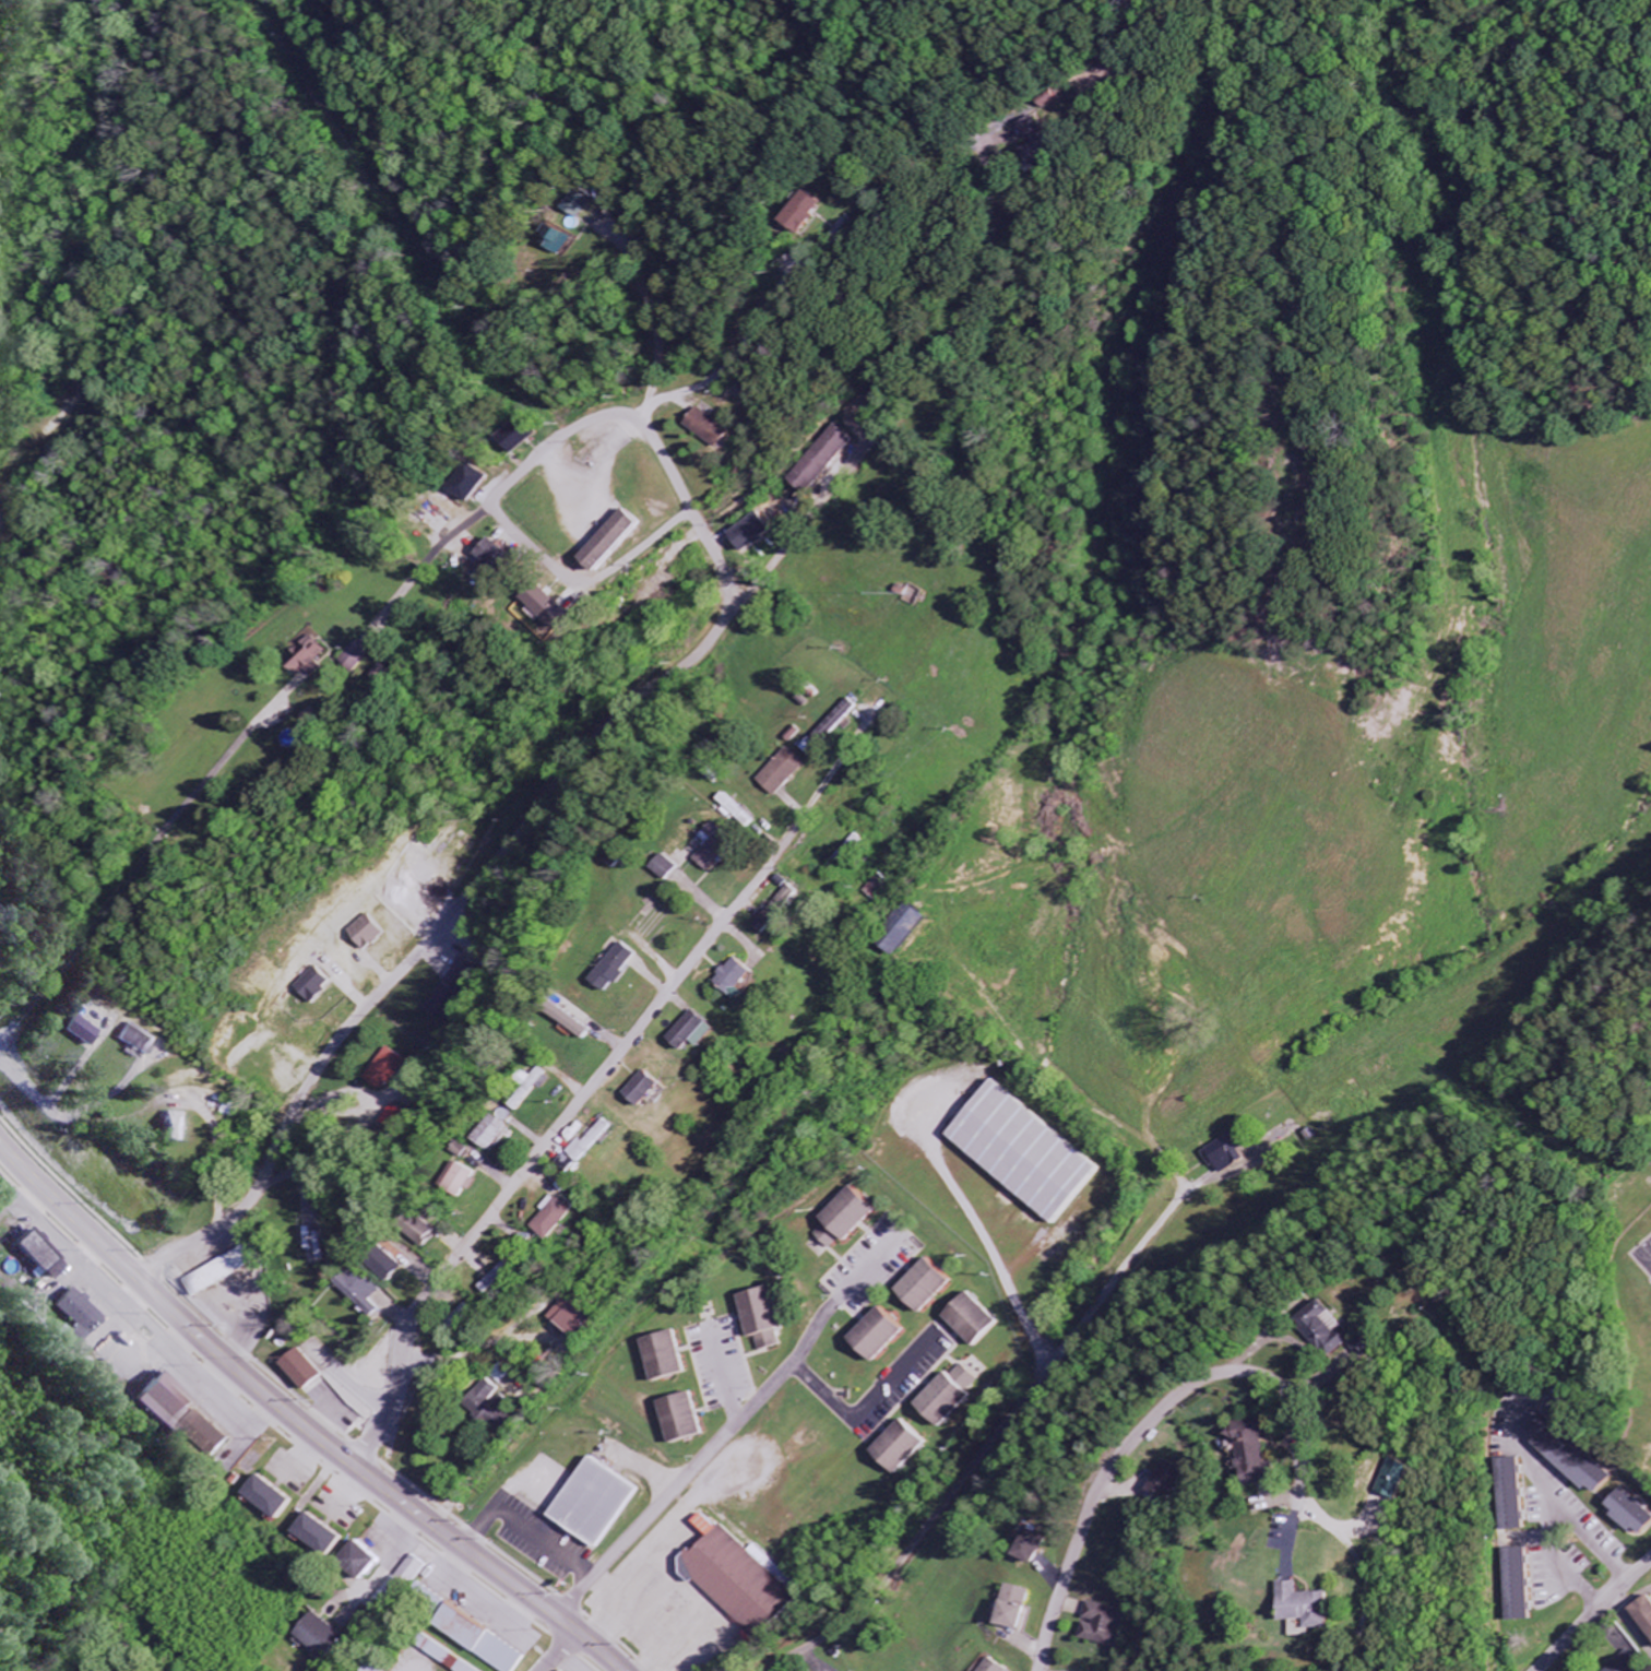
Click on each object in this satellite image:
building: (1033, 129)
building: (812, 212)
building: (565, 242)
road: (772, 372)
road: (675, 390)
building: (714, 428)
building: (526, 435)
road: (543, 458)
building: (827, 460)
building: (477, 484)
building: (759, 532)
building: (623, 540)
building: (498, 558)
road: (427, 565)
building: (557, 608)
road: (728, 613)
building: (310, 654)
building: (359, 656)
building: (834, 727)
building: (787, 772)
building: (740, 810)
building: (721, 848)
road: (498, 861)
building: (672, 868)
road: (115, 876)
building: (881, 887)
building: (785, 910)
building: (375, 933)
building: (623, 968)
building: (467, 975)
building: (744, 977)
building: (321, 986)
building: (449, 1003)
building: (579, 1023)
building: (85, 1032)
building: (702, 1032)
building: (142, 1040)
building: (393, 1069)
building: (651, 1089)
road: (152, 1092)
building: (182, 1127)
road: (561, 1127)
building: (496, 1133)
building: (594, 1142)
building: (1031, 1153)
building: (1228, 1156)
building: (464, 1180)
building: (851, 1219)
building: (560, 1221)
building: (426, 1233)
building: (43, 1256)
building: (392, 1268)
road: (1126, 1268)
building: (228, 1271)
building: (499, 1279)
building: (361, 1291)
building: (81, 1312)
building: (462, 1316)
building: (769, 1319)
building: (578, 1320)
building: (981, 1320)
building: (1303, 1329)
building: (886, 1336)
building: (673, 1359)
building: (307, 1371)
road: (806, 1374)
building: (488, 1391)
building: (958, 1396)
building: (168, 1405)
building: (501, 1414)
road: (738, 1415)
building: (691, 1420)
road: (1154, 1424)
road: (298, 1427)
building: (210, 1434)
building: (910, 1447)
building: (1236, 1450)
building: (1565, 1455)
building: (1376, 1479)
building: (1161, 1481)
building: (1509, 1495)
building: (278, 1497)
building: (601, 1501)
building: (1626, 1513)
road: (648, 1519)
road: (527, 1527)
road: (926, 1527)
building: (329, 1536)
building: (1038, 1546)
building: (375, 1557)
building: (746, 1578)
building: (407, 1583)
building: (1513, 1586)
building: (1020, 1607)
building: (1282, 1609)
road: (1599, 1616)
building: (1641, 1616)
building: (1104, 1624)
road: (1631, 1627)
building: (326, 1636)
building: (487, 1639)
road: (1179, 1639)
road: (561, 1651)
road: (23, 1652)
building: (450, 1659)
building: (1624, 1663)
building: (999, 1666)
building: (366, 1670)

